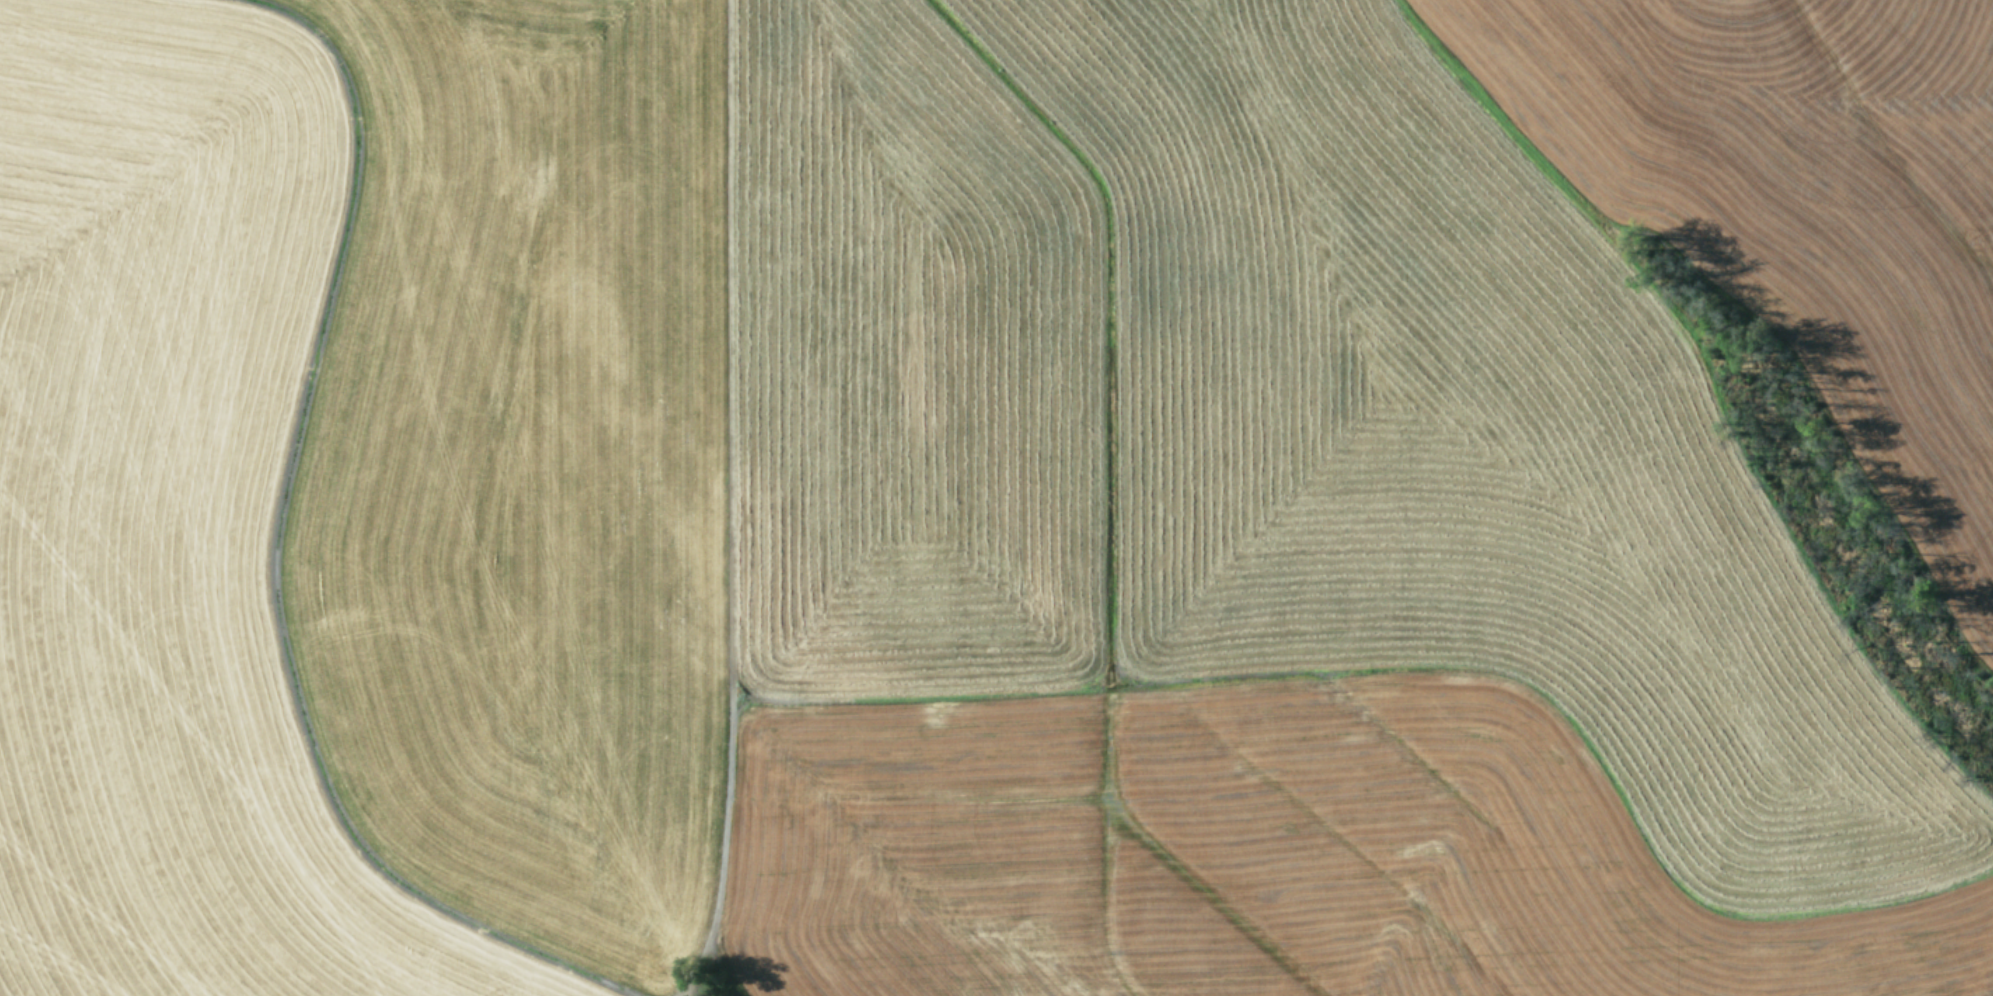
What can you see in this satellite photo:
crop: (996, 498)

